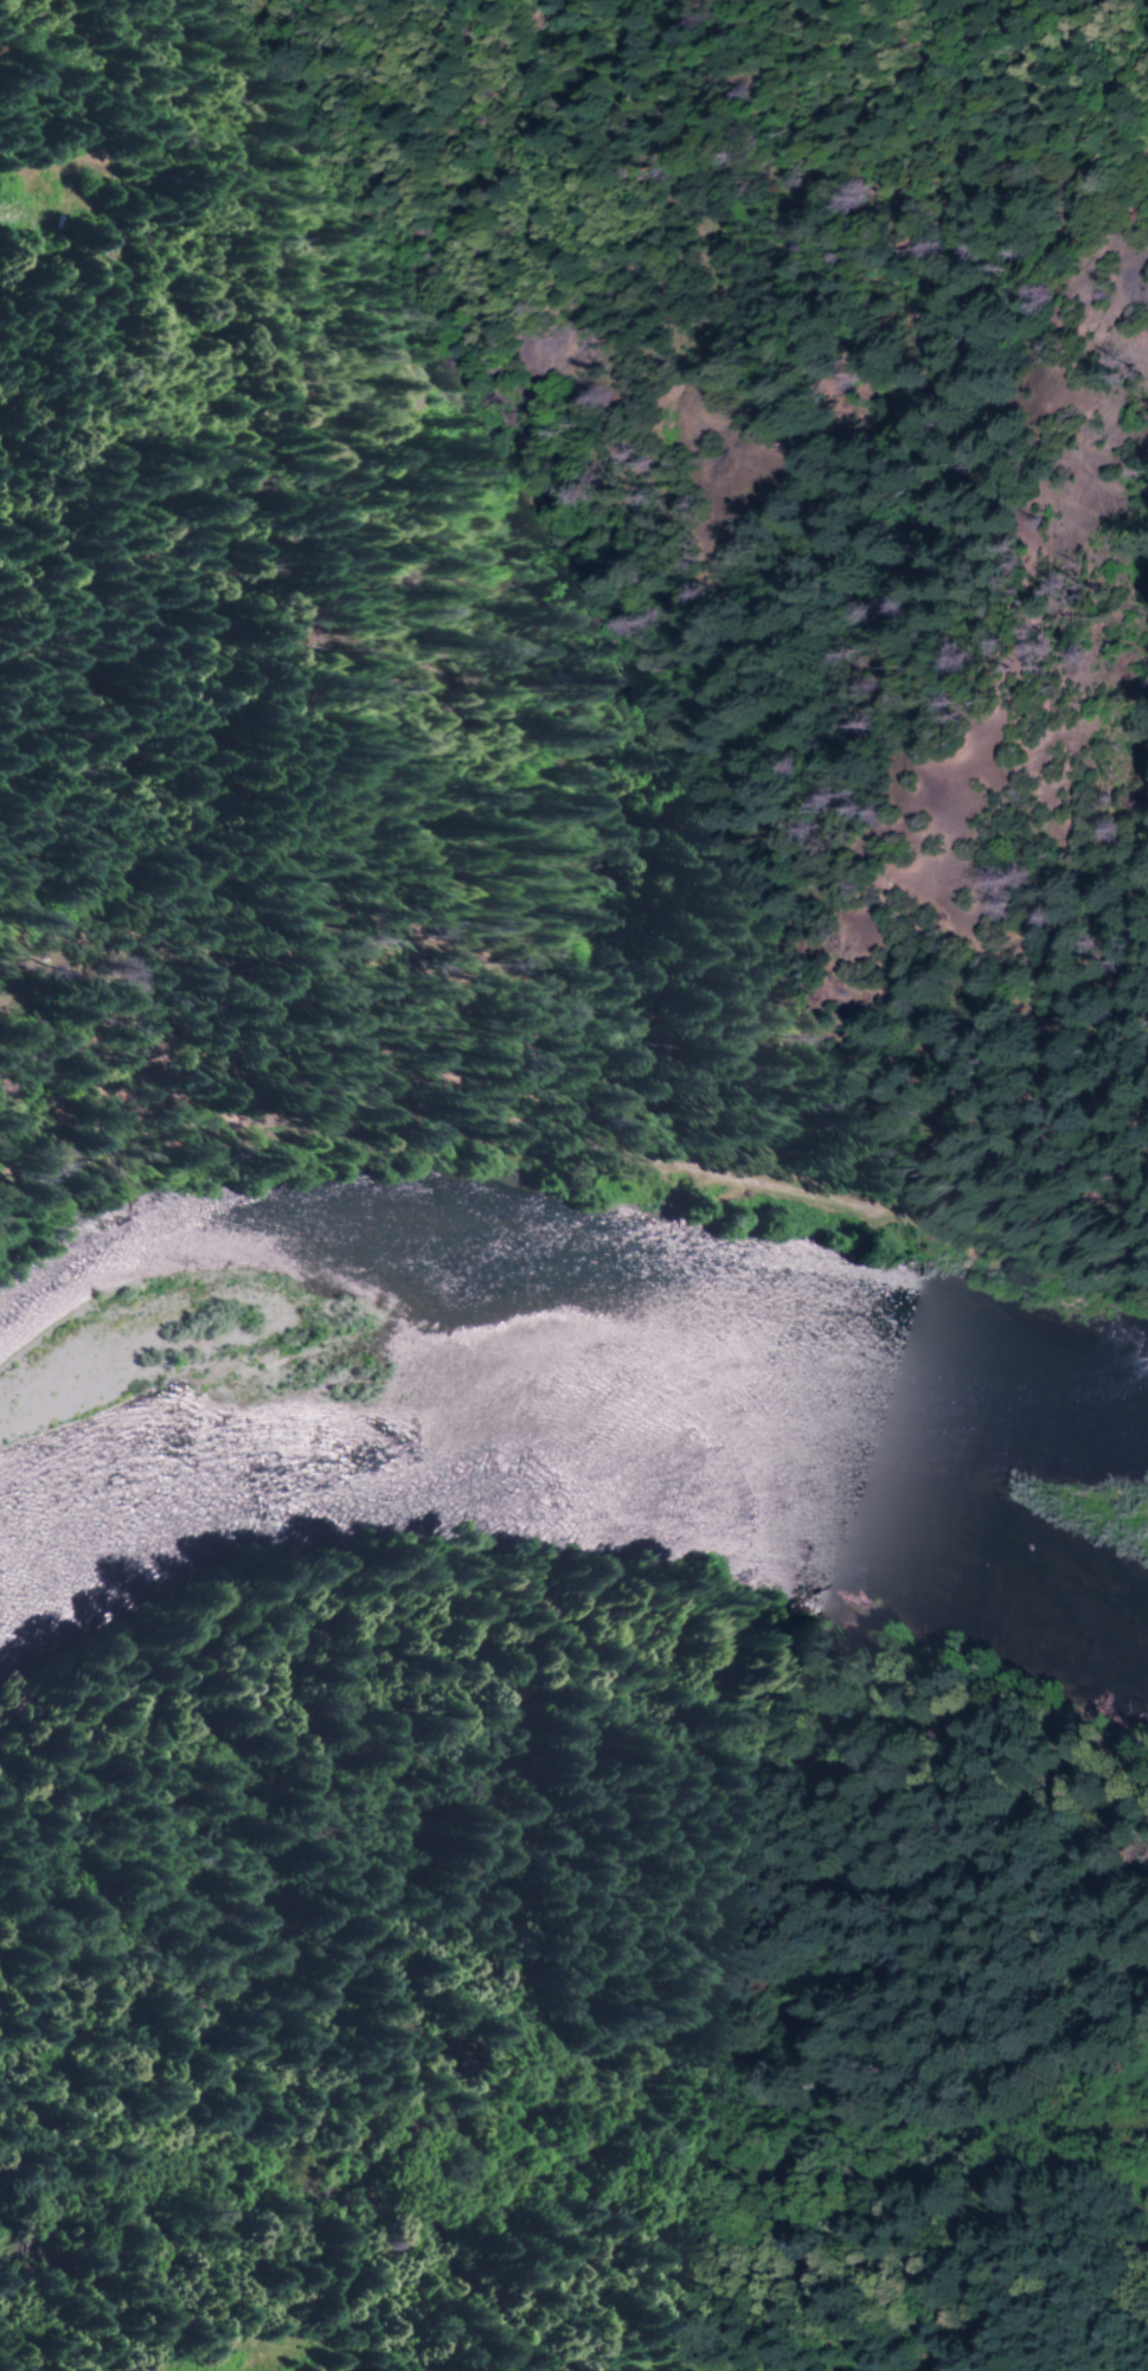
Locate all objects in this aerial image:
road: (569, 1081)
river: (591, 1463)

